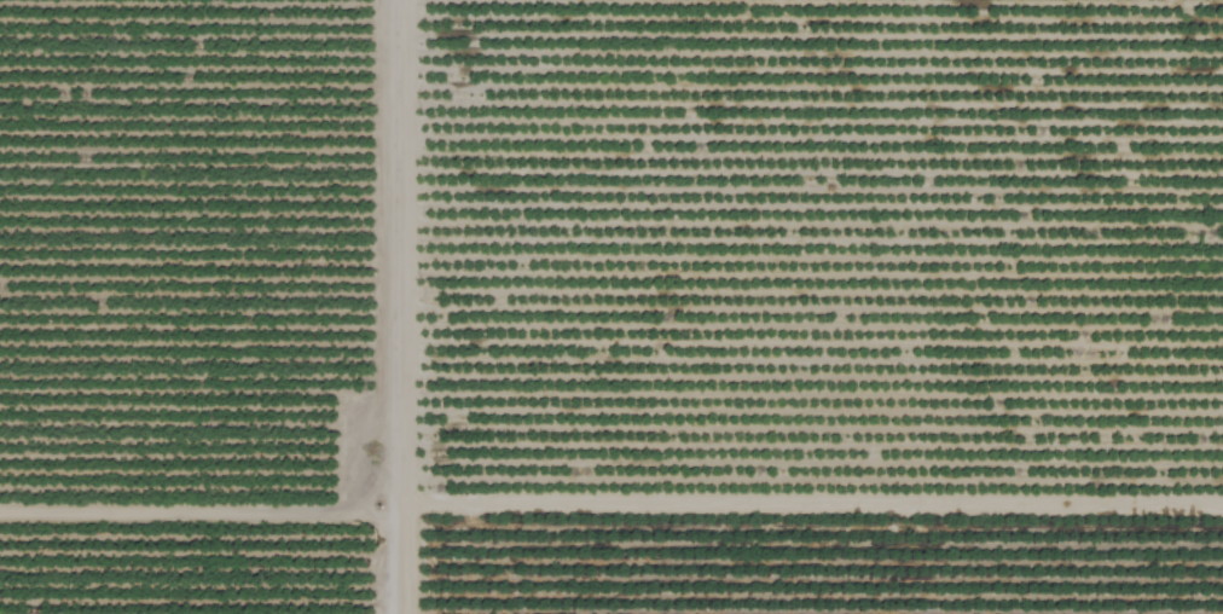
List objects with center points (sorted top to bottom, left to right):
road: (395, 306)
crop: (611, 307)

